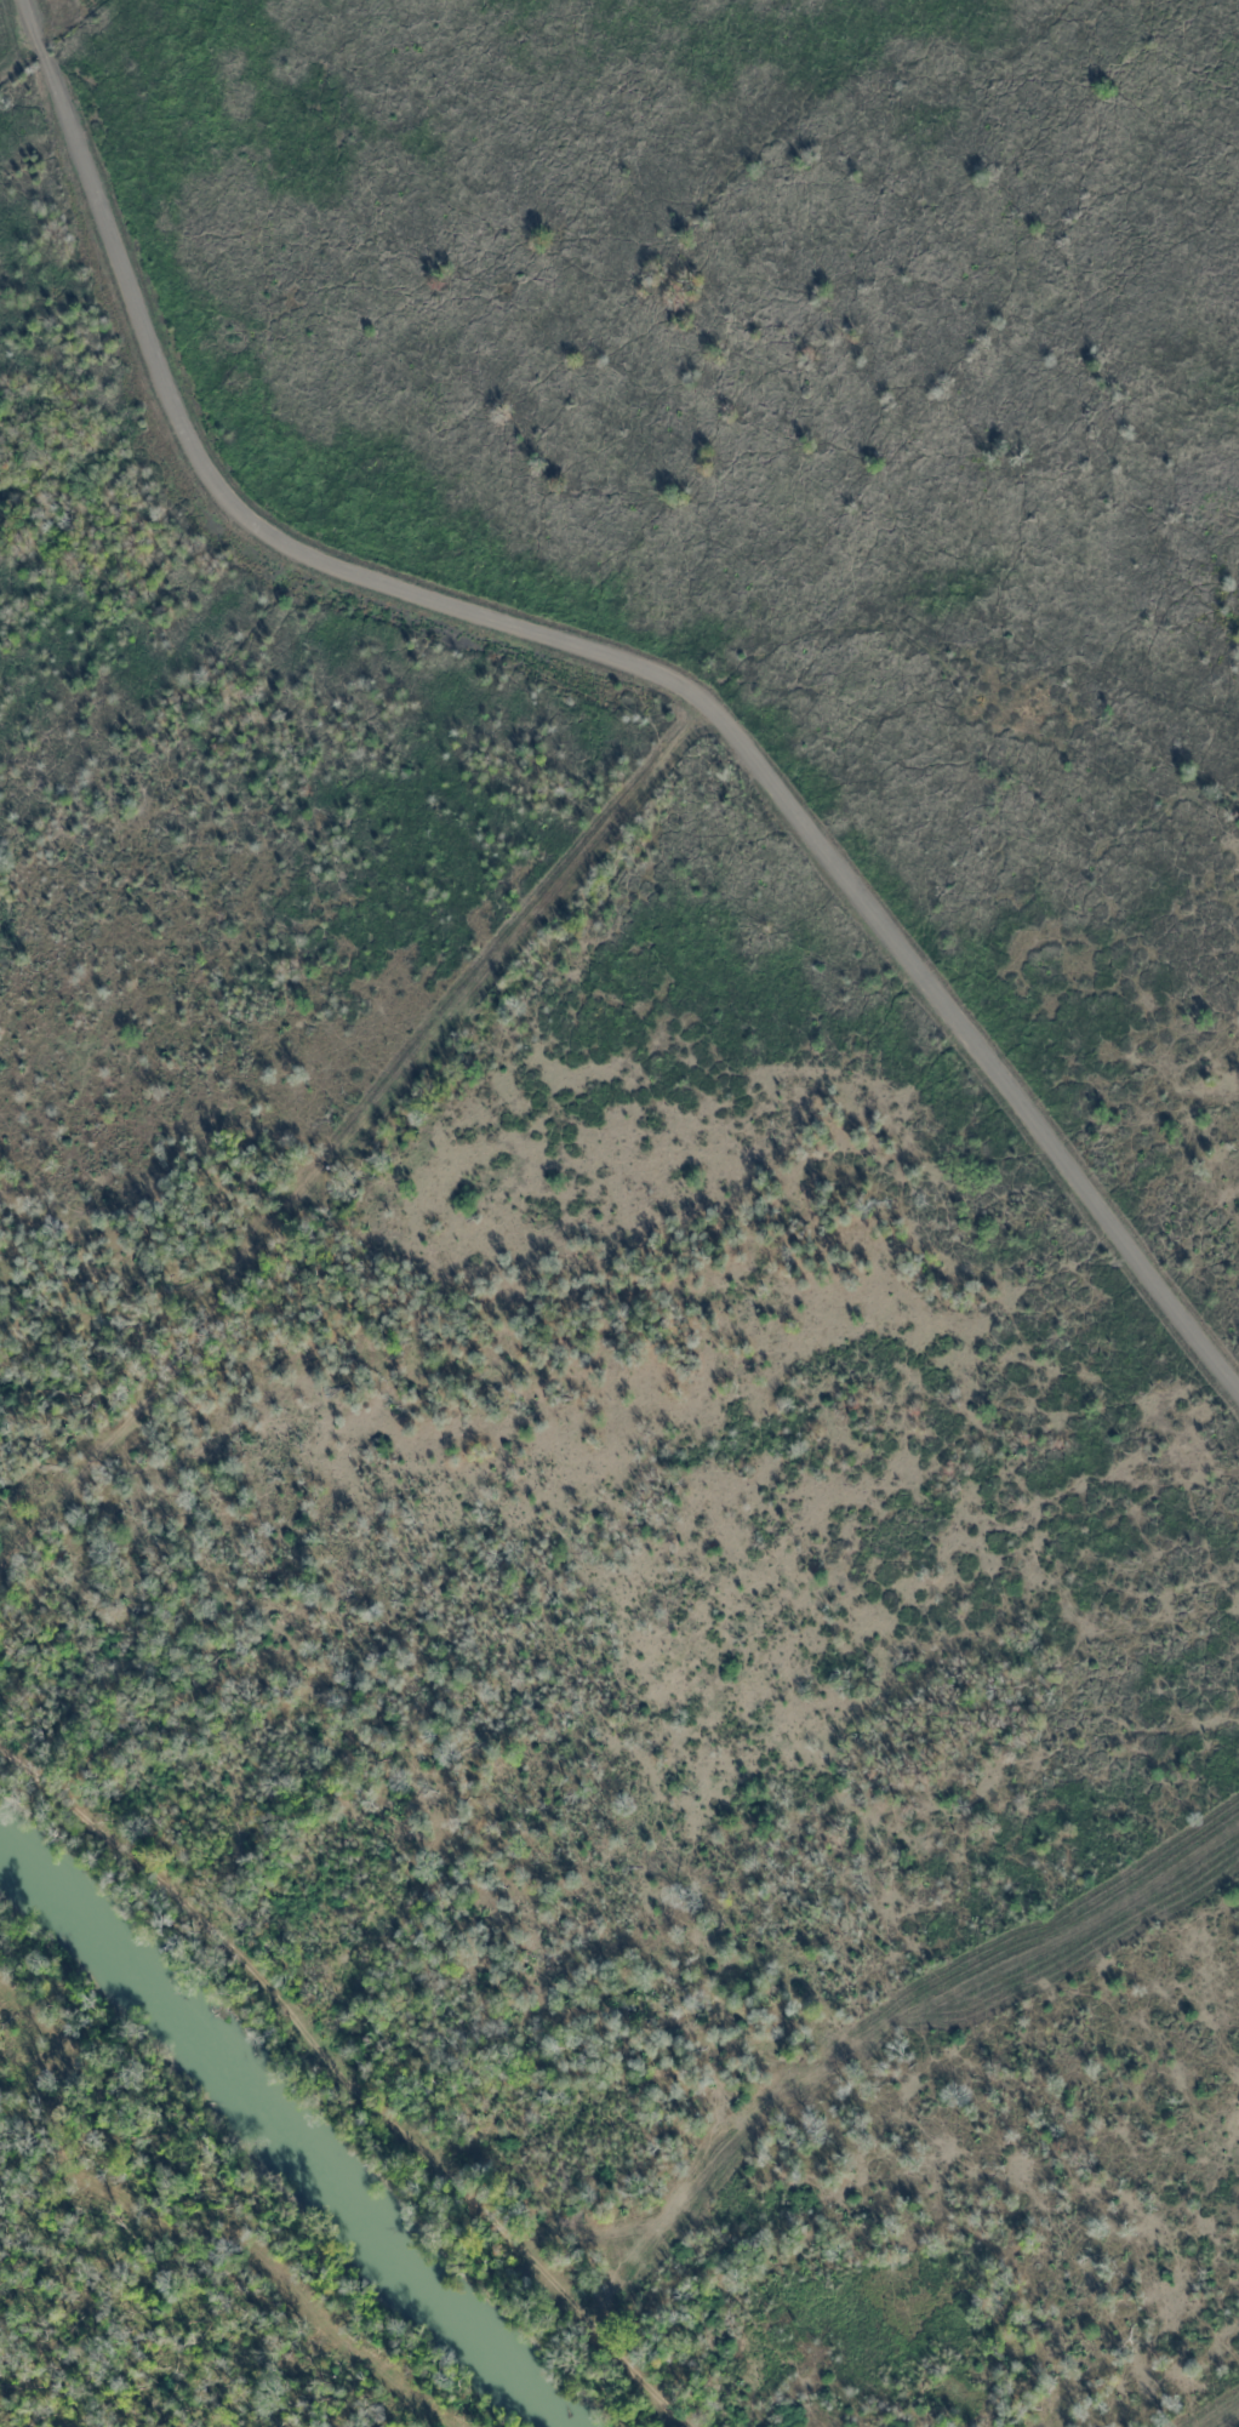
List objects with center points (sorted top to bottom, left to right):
road: (613, 661)
road: (352, 2069)
river: (289, 2134)

